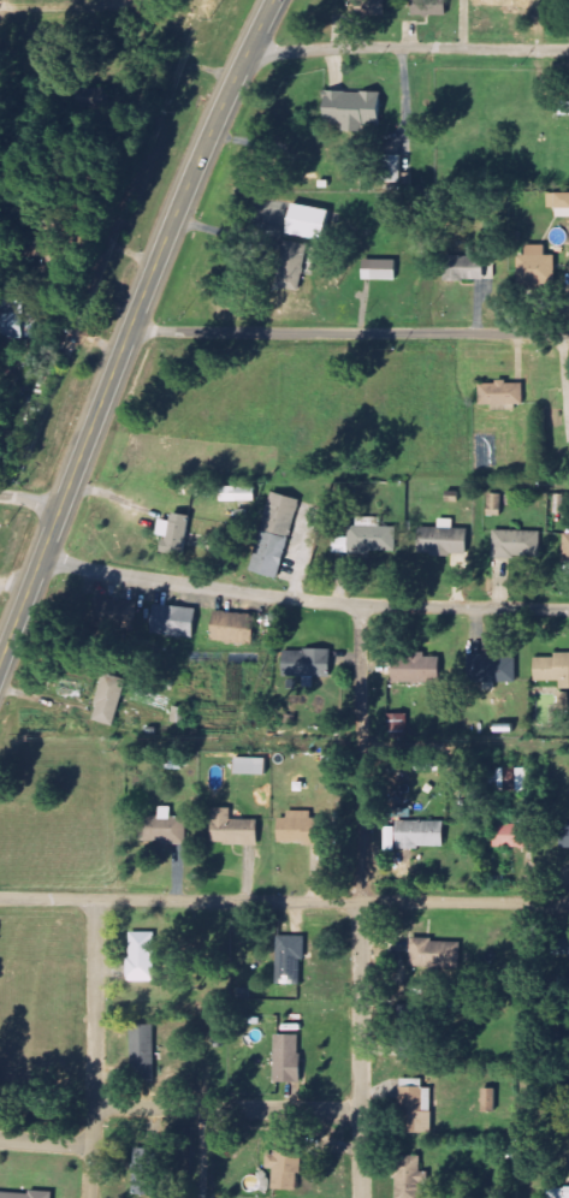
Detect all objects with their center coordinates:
building: (505, 4)
building: (433, 7)
road: (464, 25)
road: (408, 51)
building: (357, 109)
building: (561, 203)
building: (314, 223)
building: (538, 265)
building: (296, 266)
building: (470, 268)
building: (384, 269)
building: (25, 326)
road: (349, 328)
road: (129, 330)
building: (500, 393)
building: (241, 494)
road: (31, 500)
building: (178, 535)
building: (274, 536)
building: (367, 538)
building: (440, 541)
building: (517, 545)
building: (567, 547)
road: (303, 598)
building: (121, 612)
building: (172, 622)
building: (231, 628)
building: (306, 664)
building: (414, 669)
building: (492, 670)
building: (552, 670)
building: (108, 700)
building: (250, 766)
building: (514, 779)
building: (161, 829)
building: (232, 829)
building: (292, 829)
building: (419, 835)
building: (512, 837)
building: (564, 837)
road: (284, 902)
road: (361, 902)
building: (559, 951)
building: (433, 954)
building: (141, 956)
building: (289, 961)
road: (97, 1025)
building: (143, 1052)
building: (288, 1058)
building: (490, 1101)
building: (415, 1107)
road: (230, 1113)
road: (46, 1143)
building: (285, 1168)
road: (90, 1173)
building: (408, 1176)
building: (558, 1193)
building: (23, 1196)

